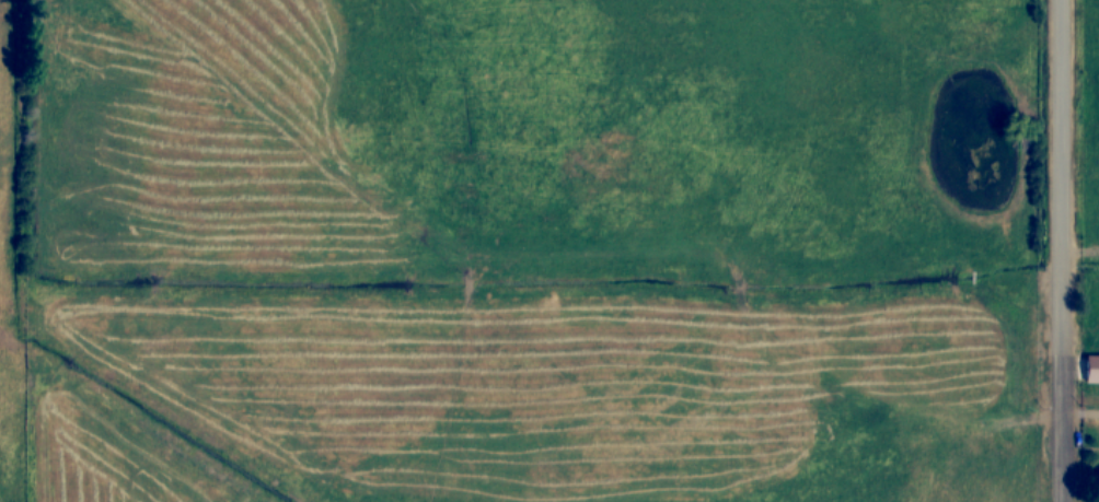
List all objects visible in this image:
road: (1068, 250)

